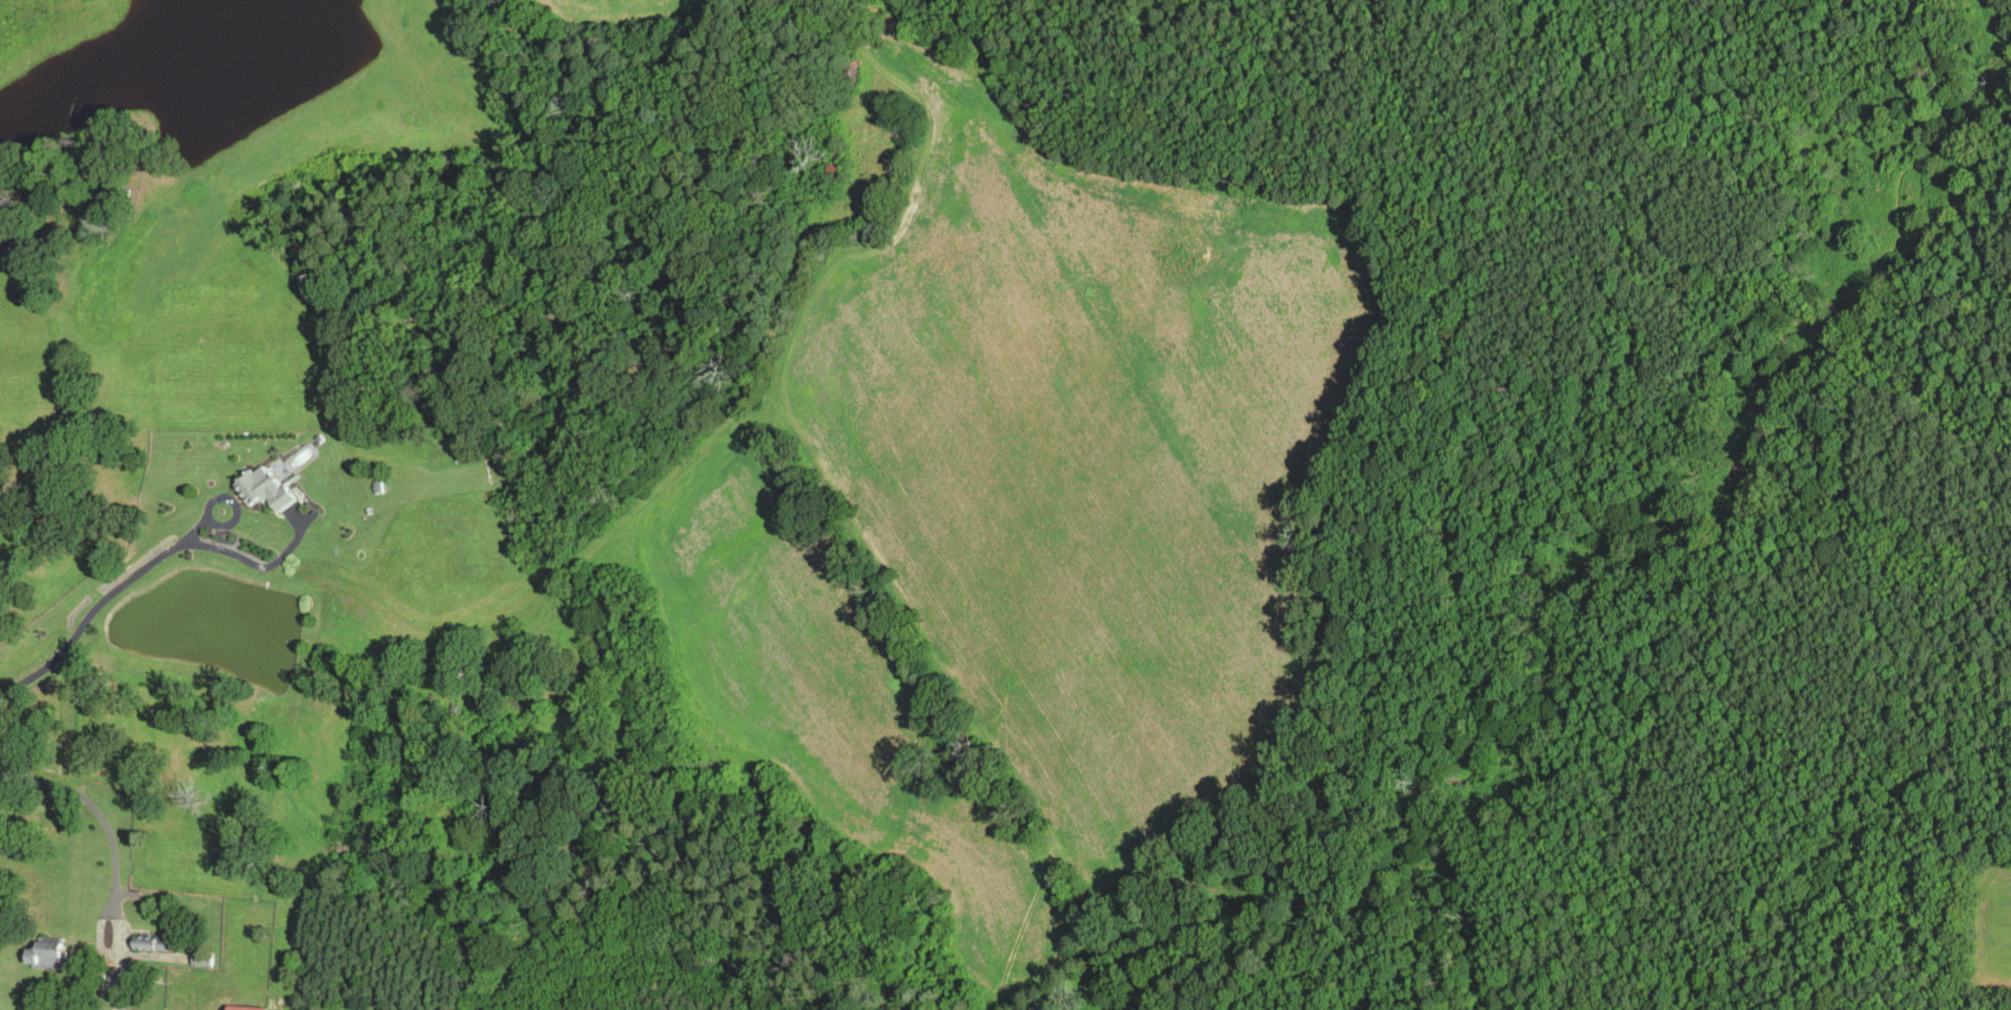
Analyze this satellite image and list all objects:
building: (964, 54)
road: (1681, 287)
building: (266, 489)
road: (495, 609)
road: (113, 854)
building: (155, 945)
building: (55, 957)
building: (204, 960)

